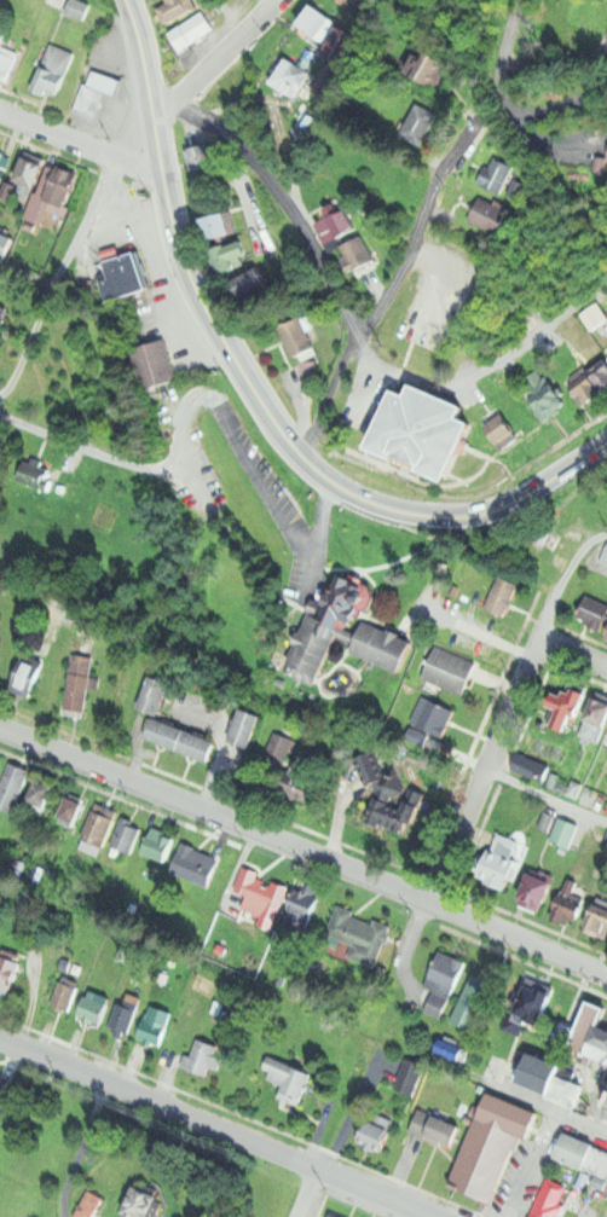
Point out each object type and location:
building: (342, 1)
building: (79, 7)
building: (177, 7)
building: (317, 22)
building: (191, 29)
building: (341, 42)
building: (7, 58)
road: (502, 58)
road: (216, 60)
building: (430, 65)
building: (53, 68)
building: (237, 81)
building: (97, 91)
road: (561, 102)
building: (421, 124)
road: (80, 143)
road: (556, 144)
building: (202, 156)
building: (601, 162)
building: (29, 170)
building: (497, 175)
building: (520, 186)
building: (7, 189)
building: (50, 193)
building: (492, 215)
building: (342, 221)
building: (218, 225)
building: (7, 244)
building: (358, 251)
building: (229, 255)
building: (121, 276)
road: (25, 278)
road: (53, 283)
building: (252, 283)
road: (386, 294)
building: (4, 315)
road: (354, 334)
building: (297, 336)
building: (154, 364)
building: (601, 364)
building: (582, 383)
road: (256, 393)
building: (550, 400)
road: (0, 413)
building: (508, 429)
building: (434, 430)
road: (237, 435)
road: (77, 445)
building: (36, 475)
road: (322, 529)
building: (562, 543)
road: (348, 555)
road: (404, 556)
building: (605, 558)
road: (563, 578)
road: (45, 595)
building: (503, 596)
building: (1, 614)
building: (594, 614)
building: (343, 633)
road: (574, 651)
building: (450, 668)
building: (29, 672)
building: (80, 690)
building: (155, 695)
building: (570, 705)
building: (600, 709)
building: (432, 720)
building: (247, 725)
building: (168, 734)
building: (198, 743)
building: (281, 744)
building: (0, 761)
building: (1, 765)
building: (531, 765)
road: (484, 770)
building: (16, 786)
building: (576, 789)
building: (45, 792)
road: (544, 795)
building: (386, 796)
building: (73, 806)
building: (606, 810)
road: (213, 816)
building: (100, 828)
building: (563, 833)
building: (129, 836)
building: (157, 847)
building: (191, 863)
building: (499, 869)
building: (539, 889)
building: (261, 893)
building: (570, 900)
building: (301, 914)
building: (600, 917)
building: (359, 934)
road: (516, 939)
building: (12, 969)
building: (445, 973)
building: (63, 993)
building: (92, 1009)
building: (530, 1010)
building: (123, 1016)
building: (155, 1024)
building: (590, 1026)
building: (601, 1044)
building: (453, 1047)
building: (204, 1056)
building: (542, 1074)
building: (410, 1076)
building: (0, 1079)
building: (294, 1082)
building: (0, 1095)
building: (605, 1103)
road: (550, 1109)
building: (435, 1126)
road: (215, 1128)
building: (376, 1130)
building: (493, 1144)
road: (79, 1148)
building: (582, 1153)
road: (537, 1165)
road: (307, 1193)
building: (549, 1200)
building: (148, 1204)
building: (91, 1205)
building: (337, 1216)

